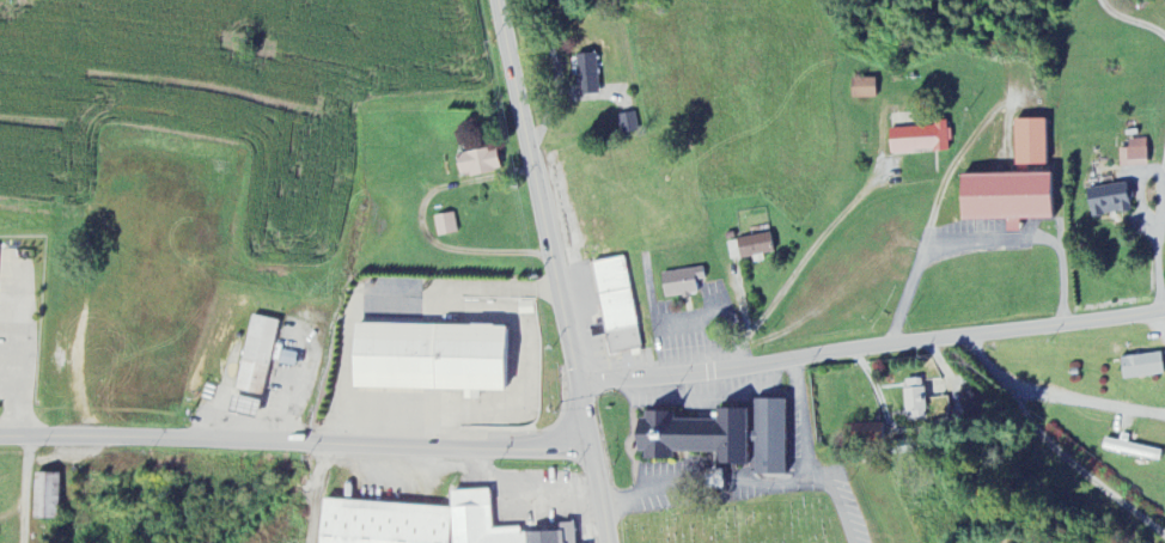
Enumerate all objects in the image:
road: (1132, 20)
building: (586, 74)
building: (861, 89)
building: (627, 124)
building: (917, 140)
building: (1027, 145)
building: (1133, 154)
building: (476, 164)
building: (1006, 199)
building: (1106, 201)
road: (420, 221)
road: (544, 222)
building: (445, 225)
road: (978, 239)
road: (1158, 239)
building: (749, 248)
road: (804, 261)
building: (681, 283)
building: (616, 306)
road: (673, 322)
road: (872, 346)
road: (17, 353)
building: (255, 356)
building: (428, 359)
building: (1141, 367)
road: (8, 380)
road: (707, 397)
building: (914, 398)
building: (971, 399)
road: (1088, 399)
building: (240, 408)
road: (806, 420)
building: (865, 434)
building: (691, 437)
building: (767, 438)
road: (295, 439)
road: (1053, 446)
building: (1132, 451)
road: (327, 459)
building: (712, 480)
road: (744, 480)
road: (22, 488)
road: (525, 490)
road: (599, 494)
building: (45, 498)
road: (285, 507)
road: (315, 510)
road: (12, 511)
building: (422, 524)

